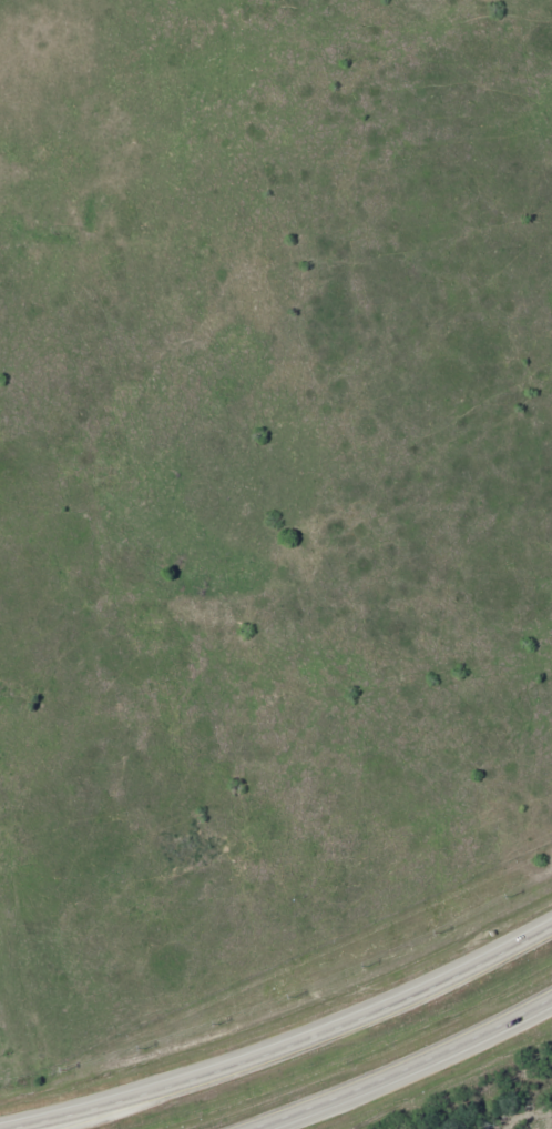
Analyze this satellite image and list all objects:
road: (283, 1038)
road: (409, 1078)
railway: (481, 1111)

